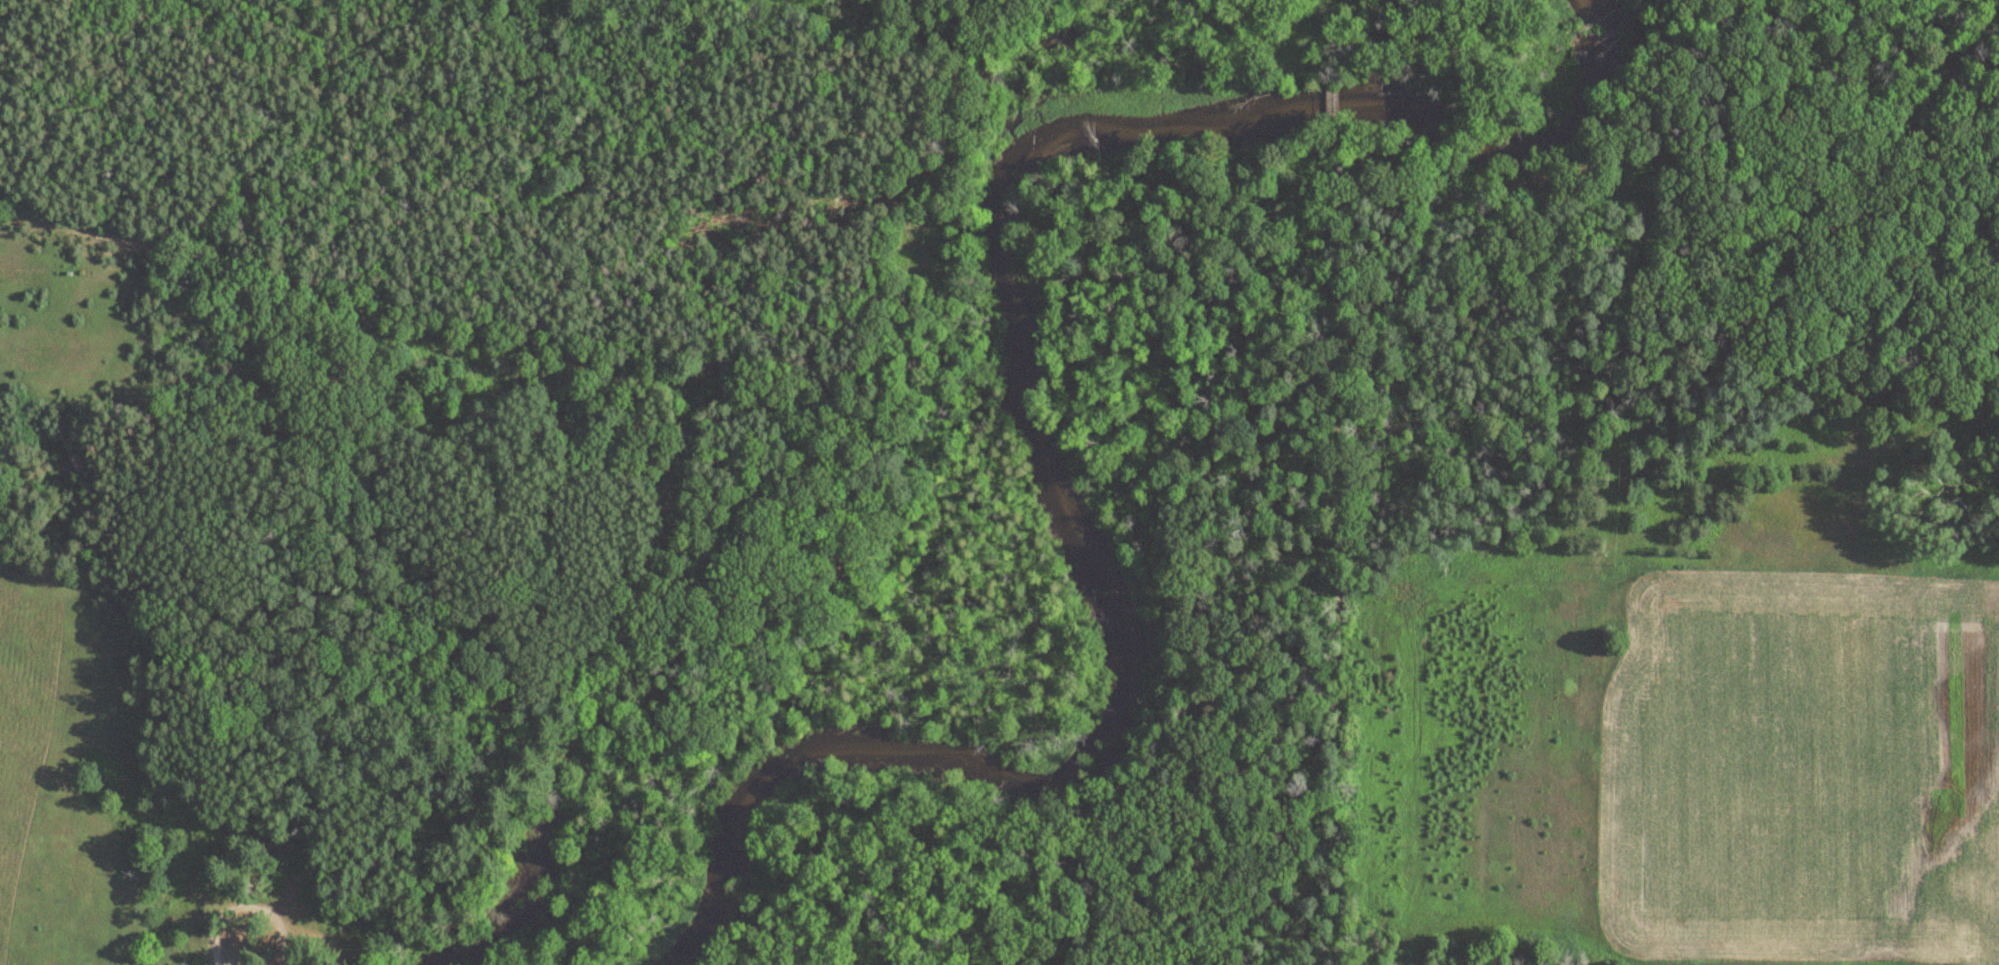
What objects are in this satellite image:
road: (1337, 39)
road: (1337, 101)
river: (1022, 392)
road: (1336, 544)

